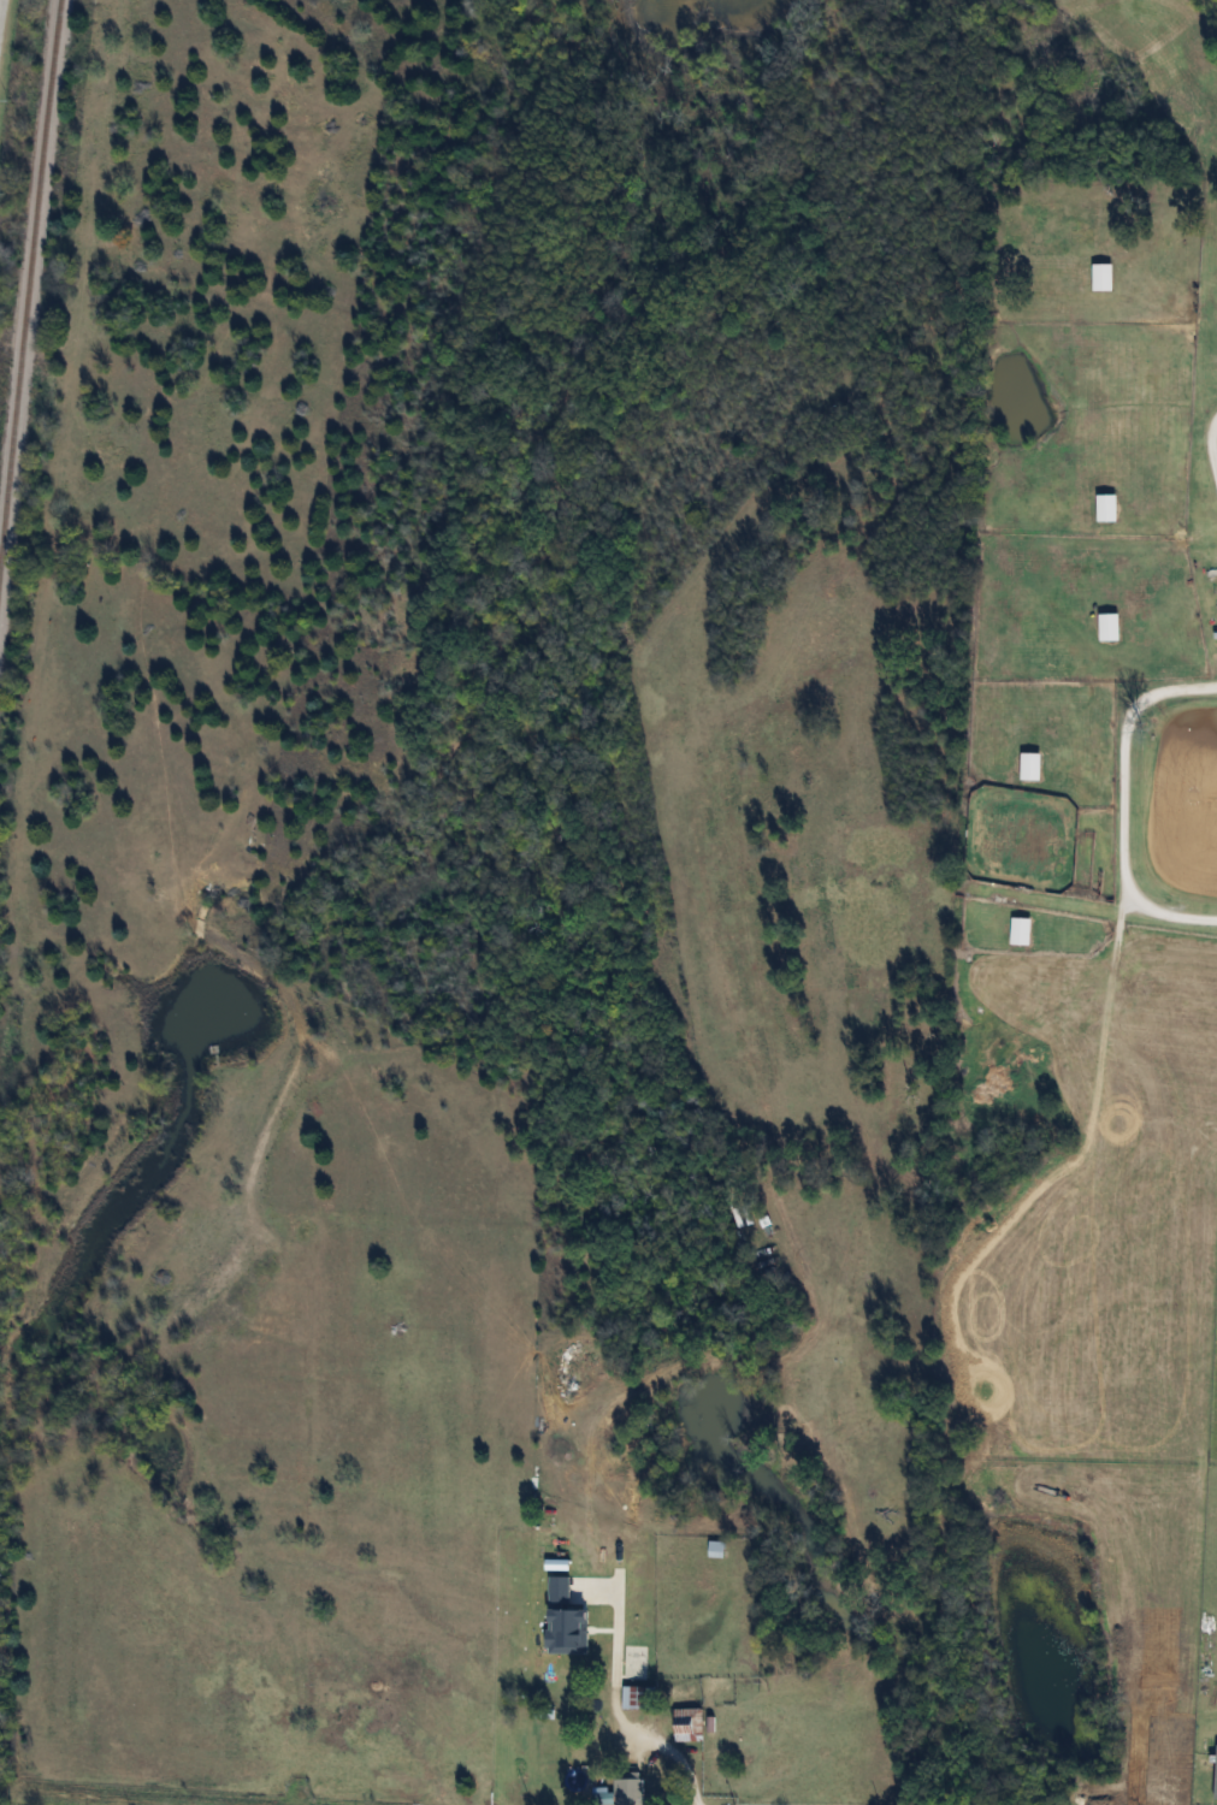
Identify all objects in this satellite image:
railway: (28, 274)
building: (1104, 277)
road: (1213, 445)
building: (1107, 507)
building: (1110, 626)
building: (1032, 765)
road: (1128, 807)
building: (1022, 929)
building: (716, 1549)
building: (550, 1652)
building: (639, 1698)
building: (690, 1724)
building: (628, 1791)

